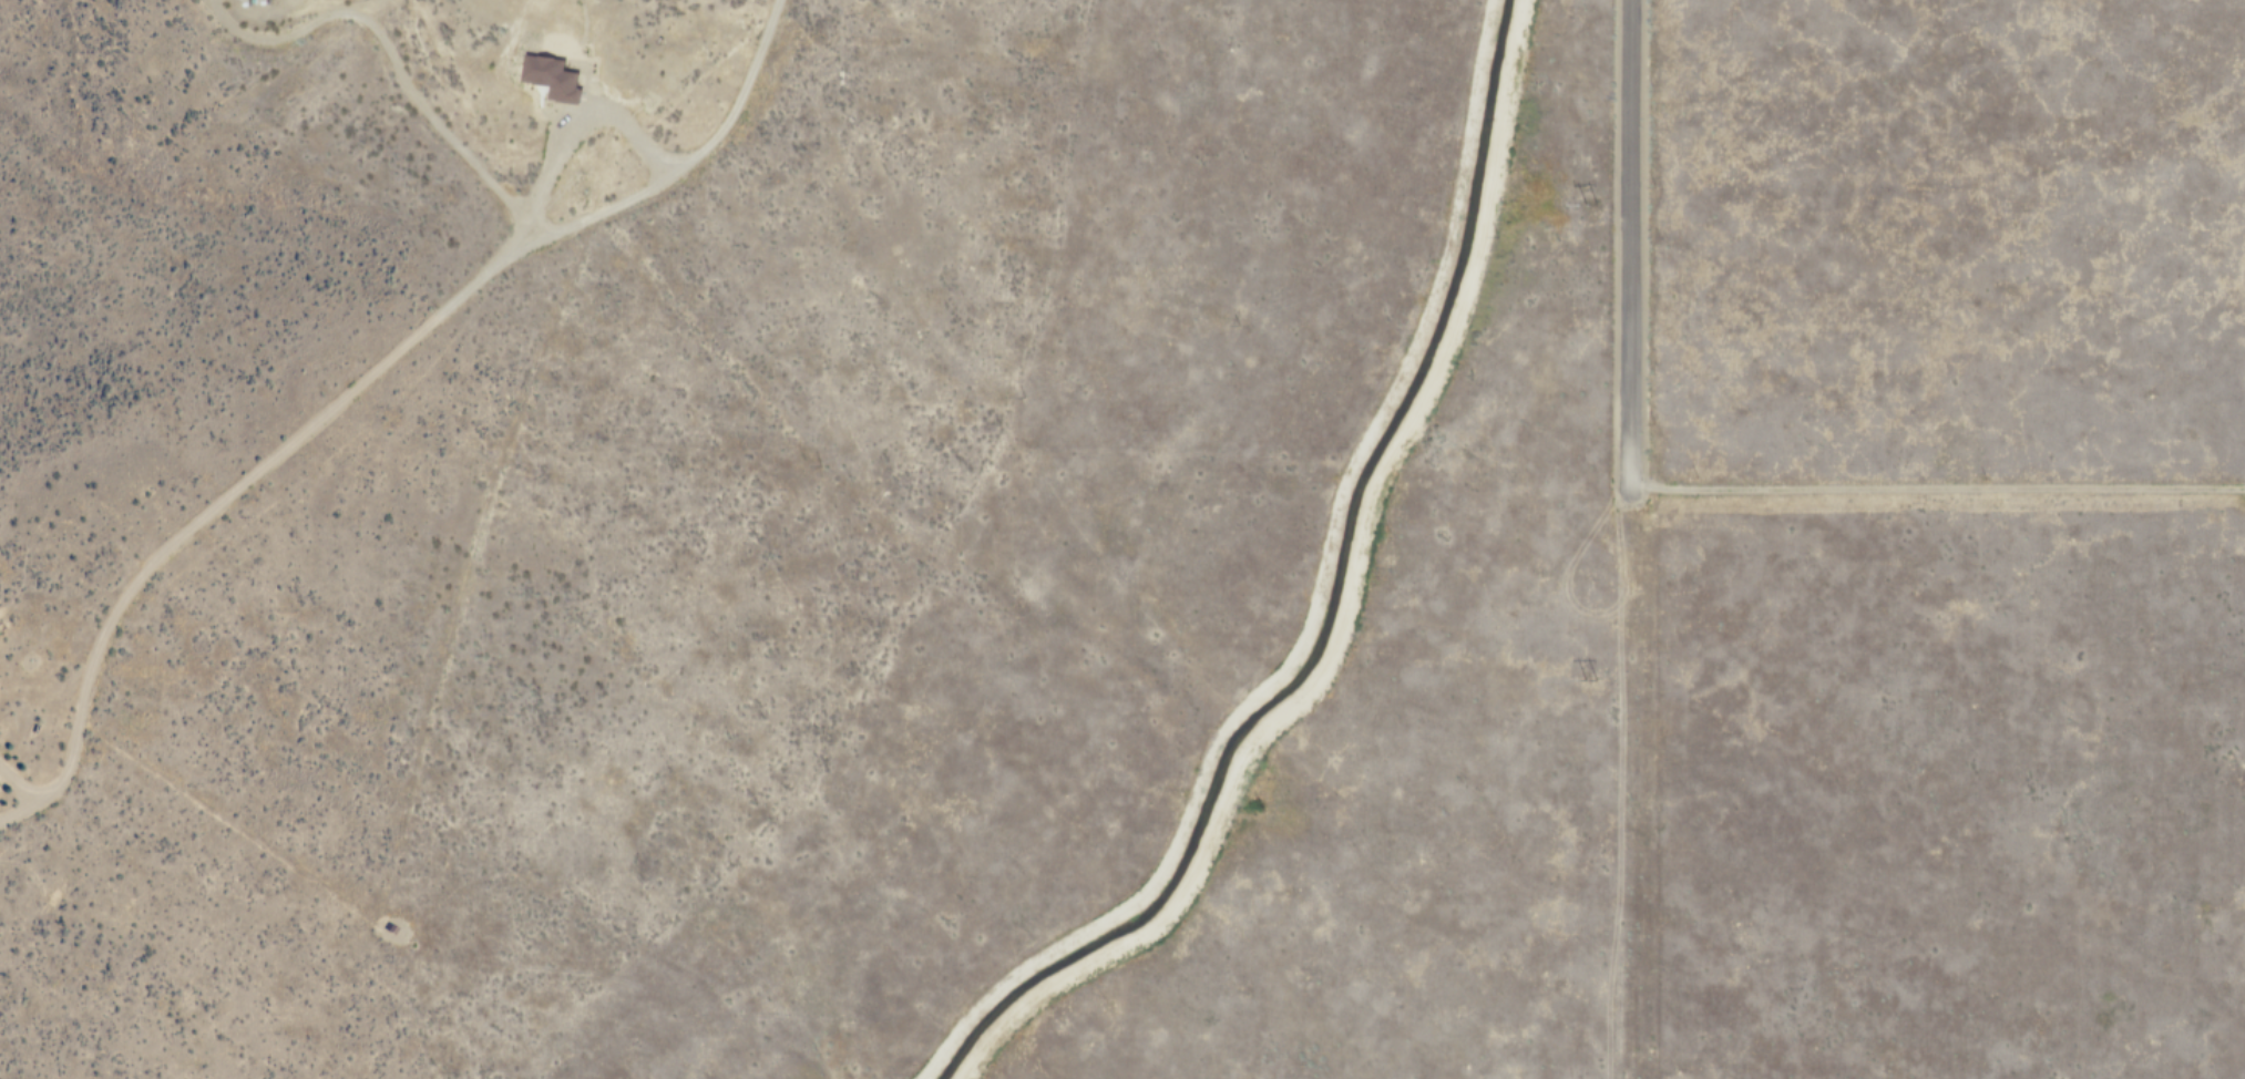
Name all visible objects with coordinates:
road: (574, 127)
power tower: (1593, 198)
road: (1629, 243)
road: (359, 384)
road: (1936, 486)
power tower: (1592, 672)

